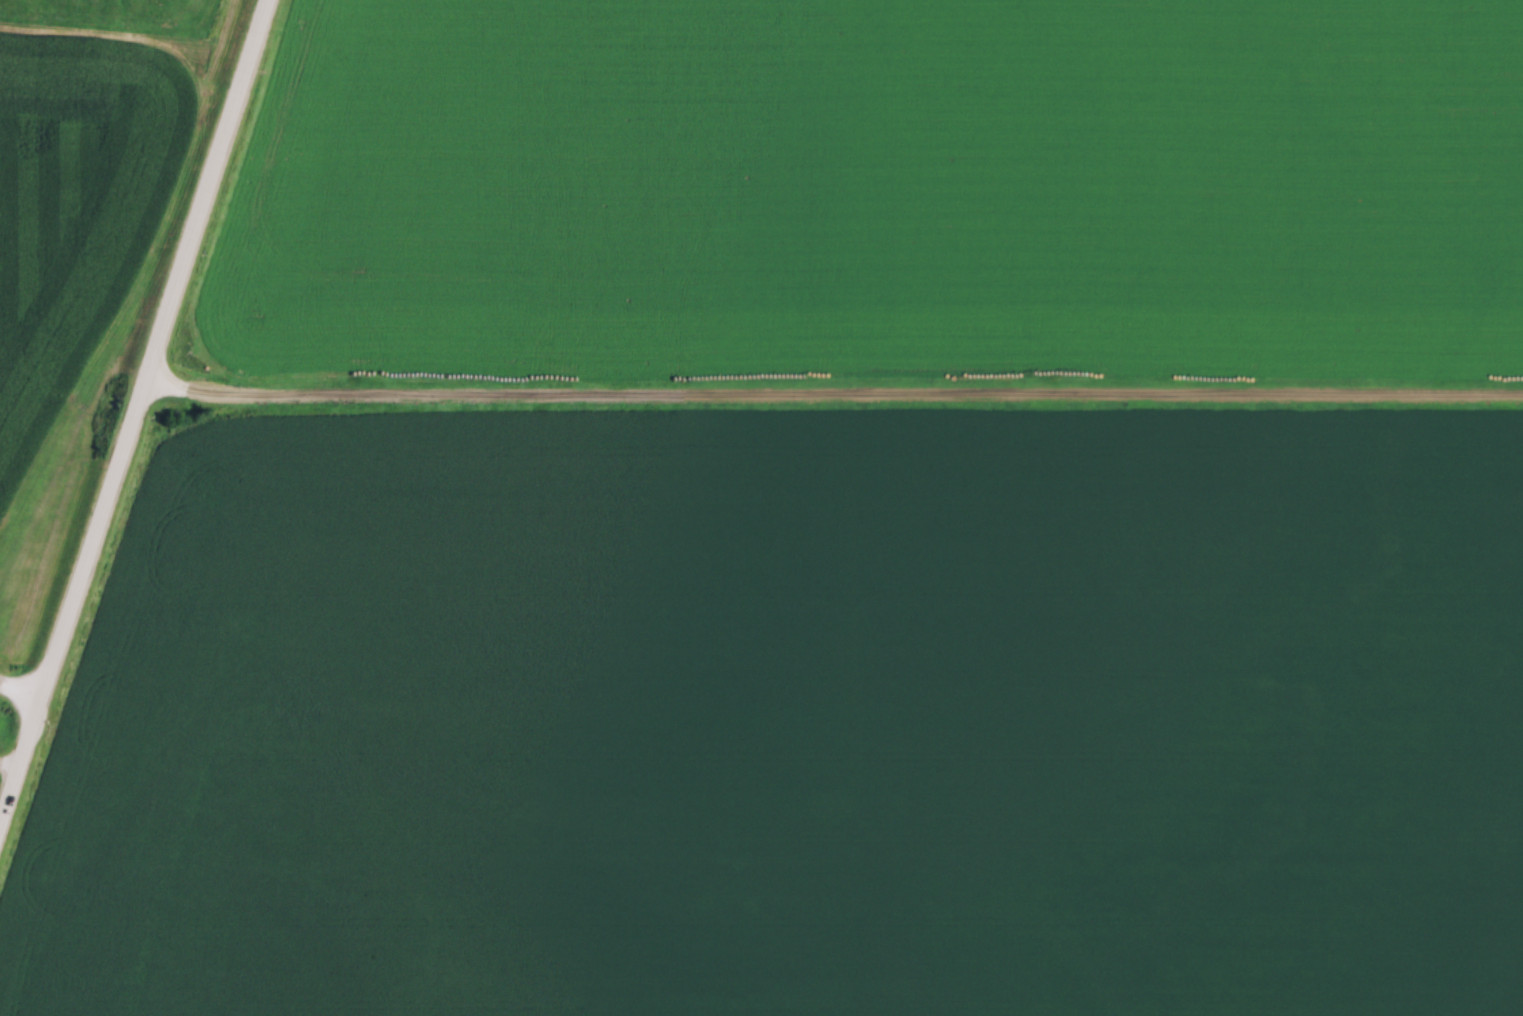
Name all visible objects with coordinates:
road: (834, 397)
road: (135, 419)
road: (23, 695)
road: (12, 765)

